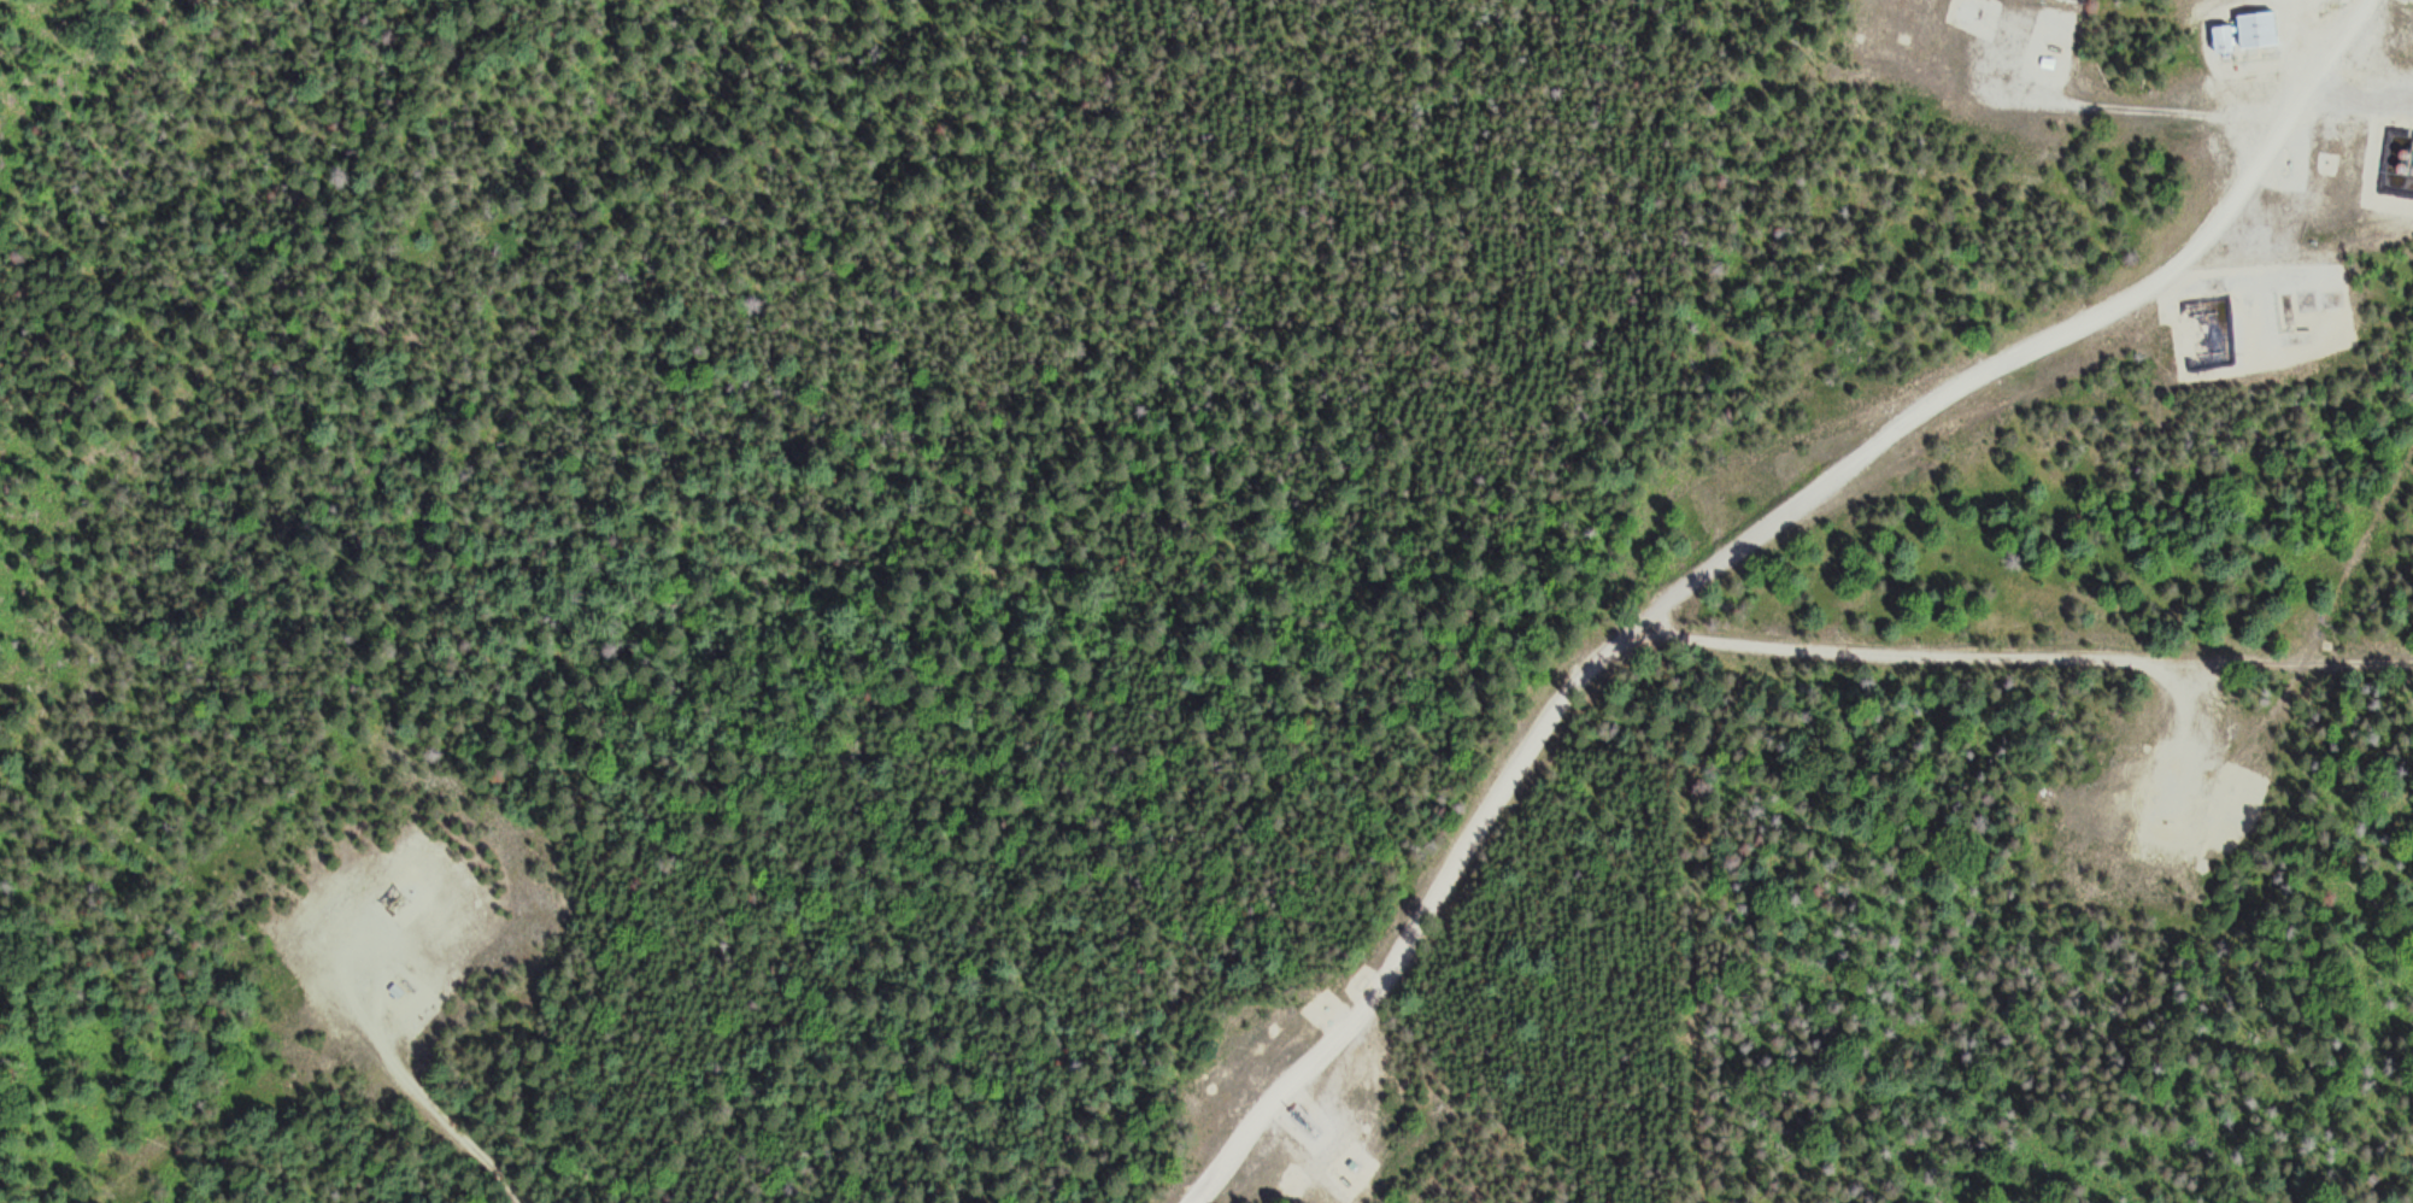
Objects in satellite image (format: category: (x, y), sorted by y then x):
building: (2256, 28)
building: (2223, 37)
road: (1722, 545)
road: (2015, 646)
road: (2202, 674)
road: (2179, 722)
petroleum well: (2166, 814)
petroleum well: (395, 891)
road: (415, 1069)
petroleum well: (1337, 1139)

